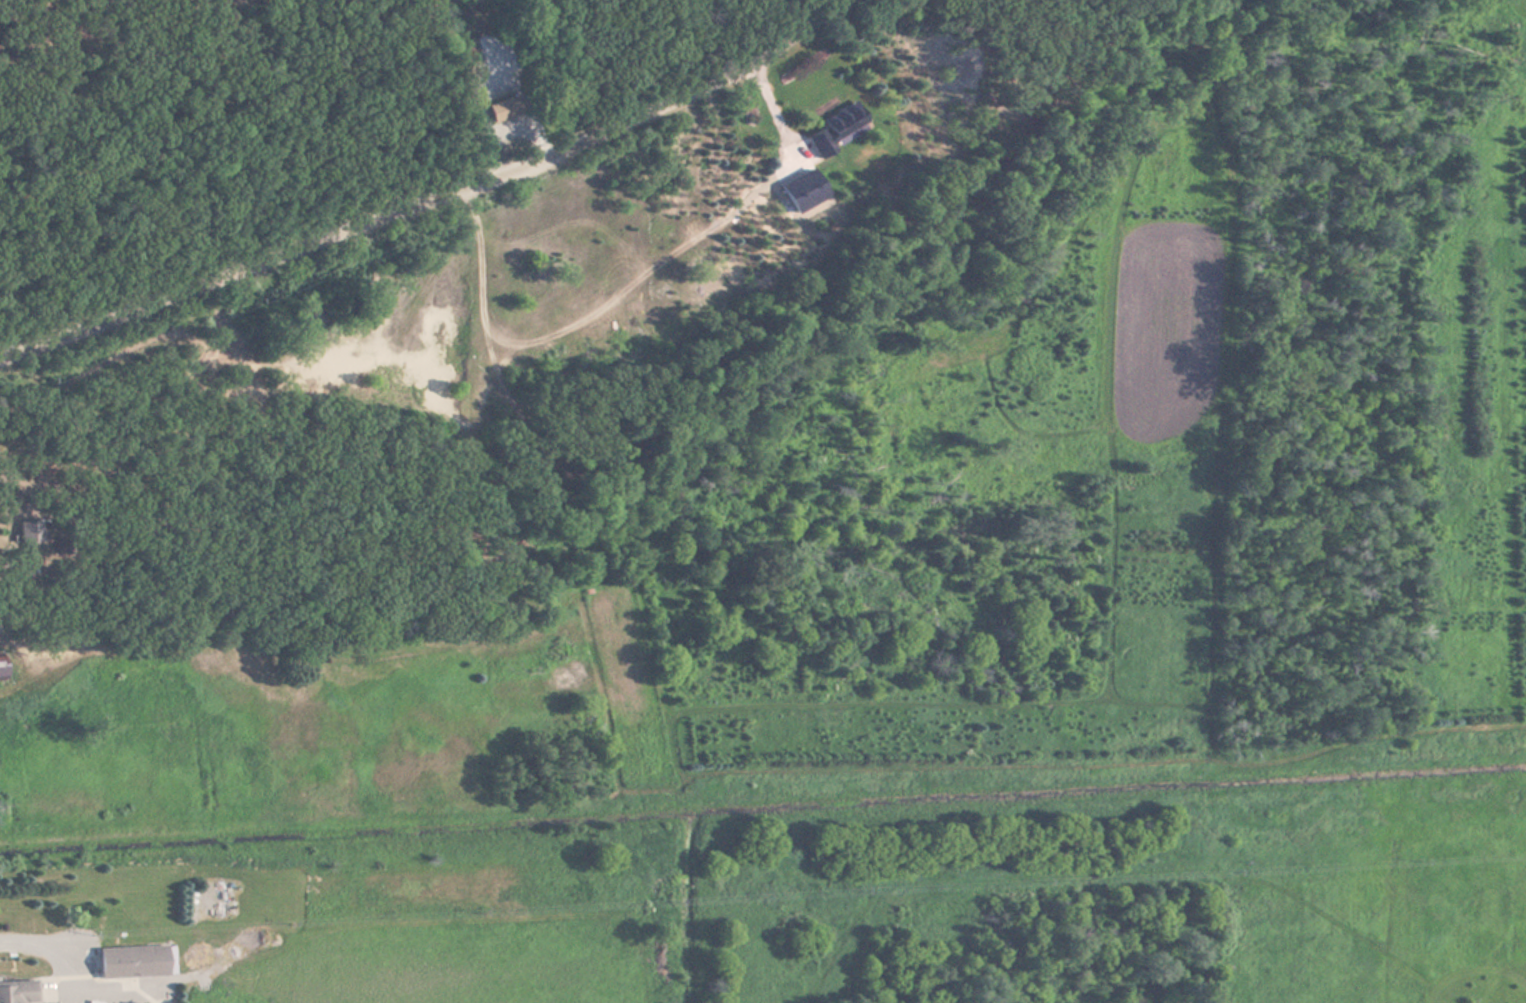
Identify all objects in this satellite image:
road: (1340, 61)
building: (504, 110)
building: (850, 131)
road: (436, 195)
building: (31, 534)
building: (2, 671)
building: (136, 962)
building: (19, 992)

